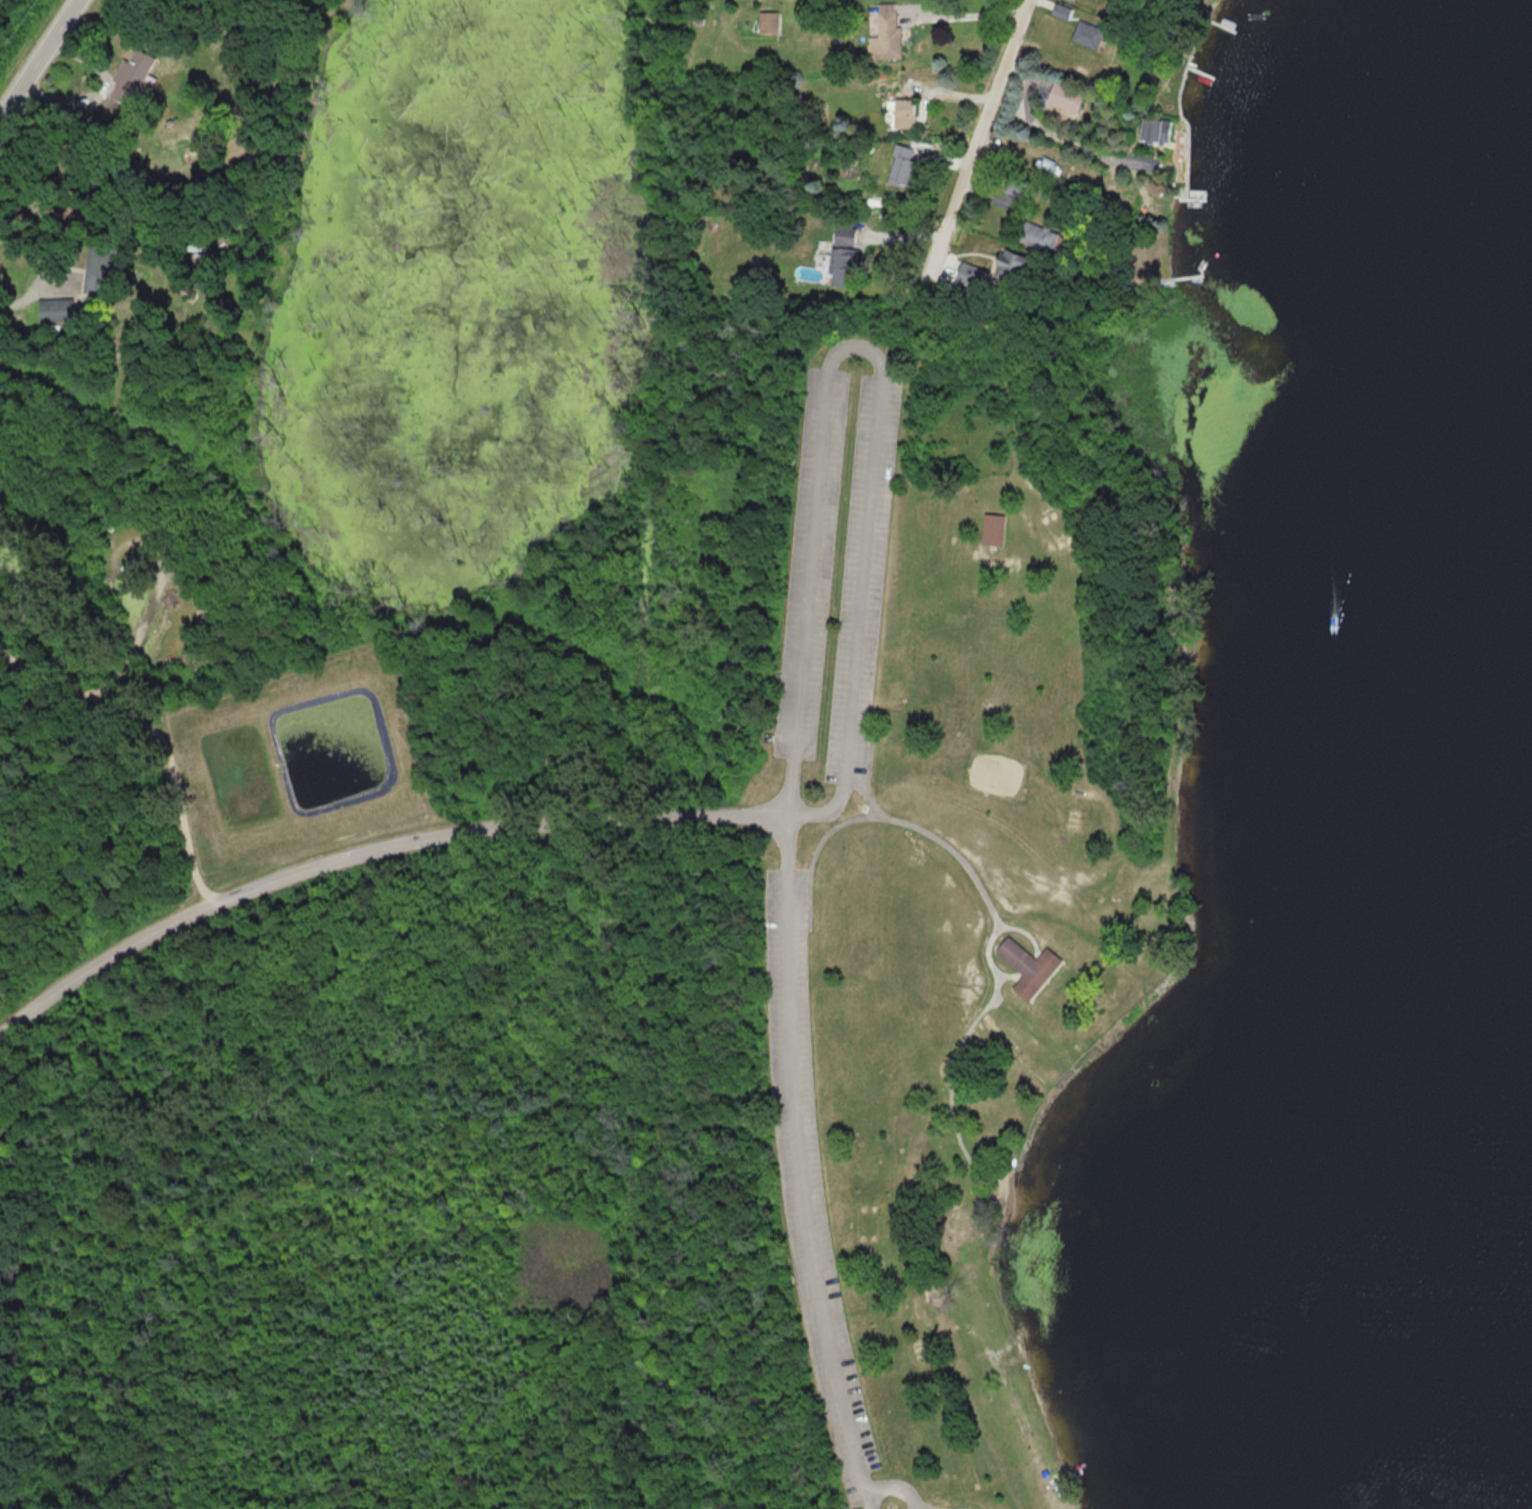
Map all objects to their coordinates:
building: (1071, 0)
building: (1059, 11)
road: (964, 17)
building: (884, 30)
park: (21, 32)
building: (1084, 34)
road: (41, 63)
building: (128, 76)
road: (100, 91)
building: (1061, 97)
building: (901, 114)
building: (1151, 130)
building: (187, 131)
road: (1054, 134)
road: (981, 144)
building: (899, 165)
building: (1033, 236)
building: (189, 241)
building: (838, 256)
building: (97, 270)
road: (14, 298)
building: (54, 310)
building: (990, 529)
parking lot: (809, 561)
building: (129, 565)
parking lot: (862, 581)
road: (803, 653)
road: (155, 735)
park: (995, 773)
road: (868, 798)
road: (915, 827)
road: (370, 848)
park: (561, 889)
road: (992, 937)
building: (1029, 965)
road: (950, 1072)
parking lot: (806, 1169)
road: (891, 1483)

